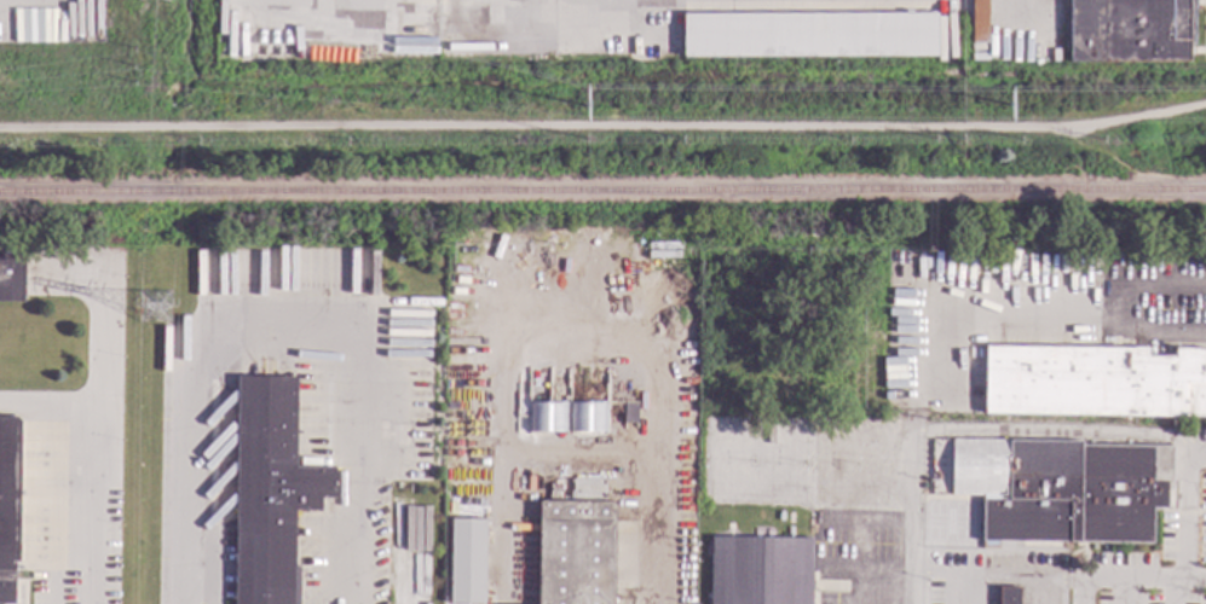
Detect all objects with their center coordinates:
building: (980, 22)
building: (1130, 31)
building: (809, 35)
power tower: (133, 69)
power tower: (1010, 110)
power tower: (585, 112)
road: (604, 127)
railway: (602, 192)
building: (11, 274)
power tower: (156, 308)
road: (1109, 324)
road: (278, 326)
building: (1094, 382)
road: (48, 406)
building: (570, 414)
building: (547, 418)
road: (98, 425)
building: (1062, 489)
building: (269, 492)
road: (910, 506)
building: (8, 509)
building: (576, 552)
building: (155, 562)
building: (467, 562)
road: (947, 562)
building: (760, 570)
road: (1019, 579)
road: (1080, 580)
road: (1143, 581)
building: (1009, 596)

